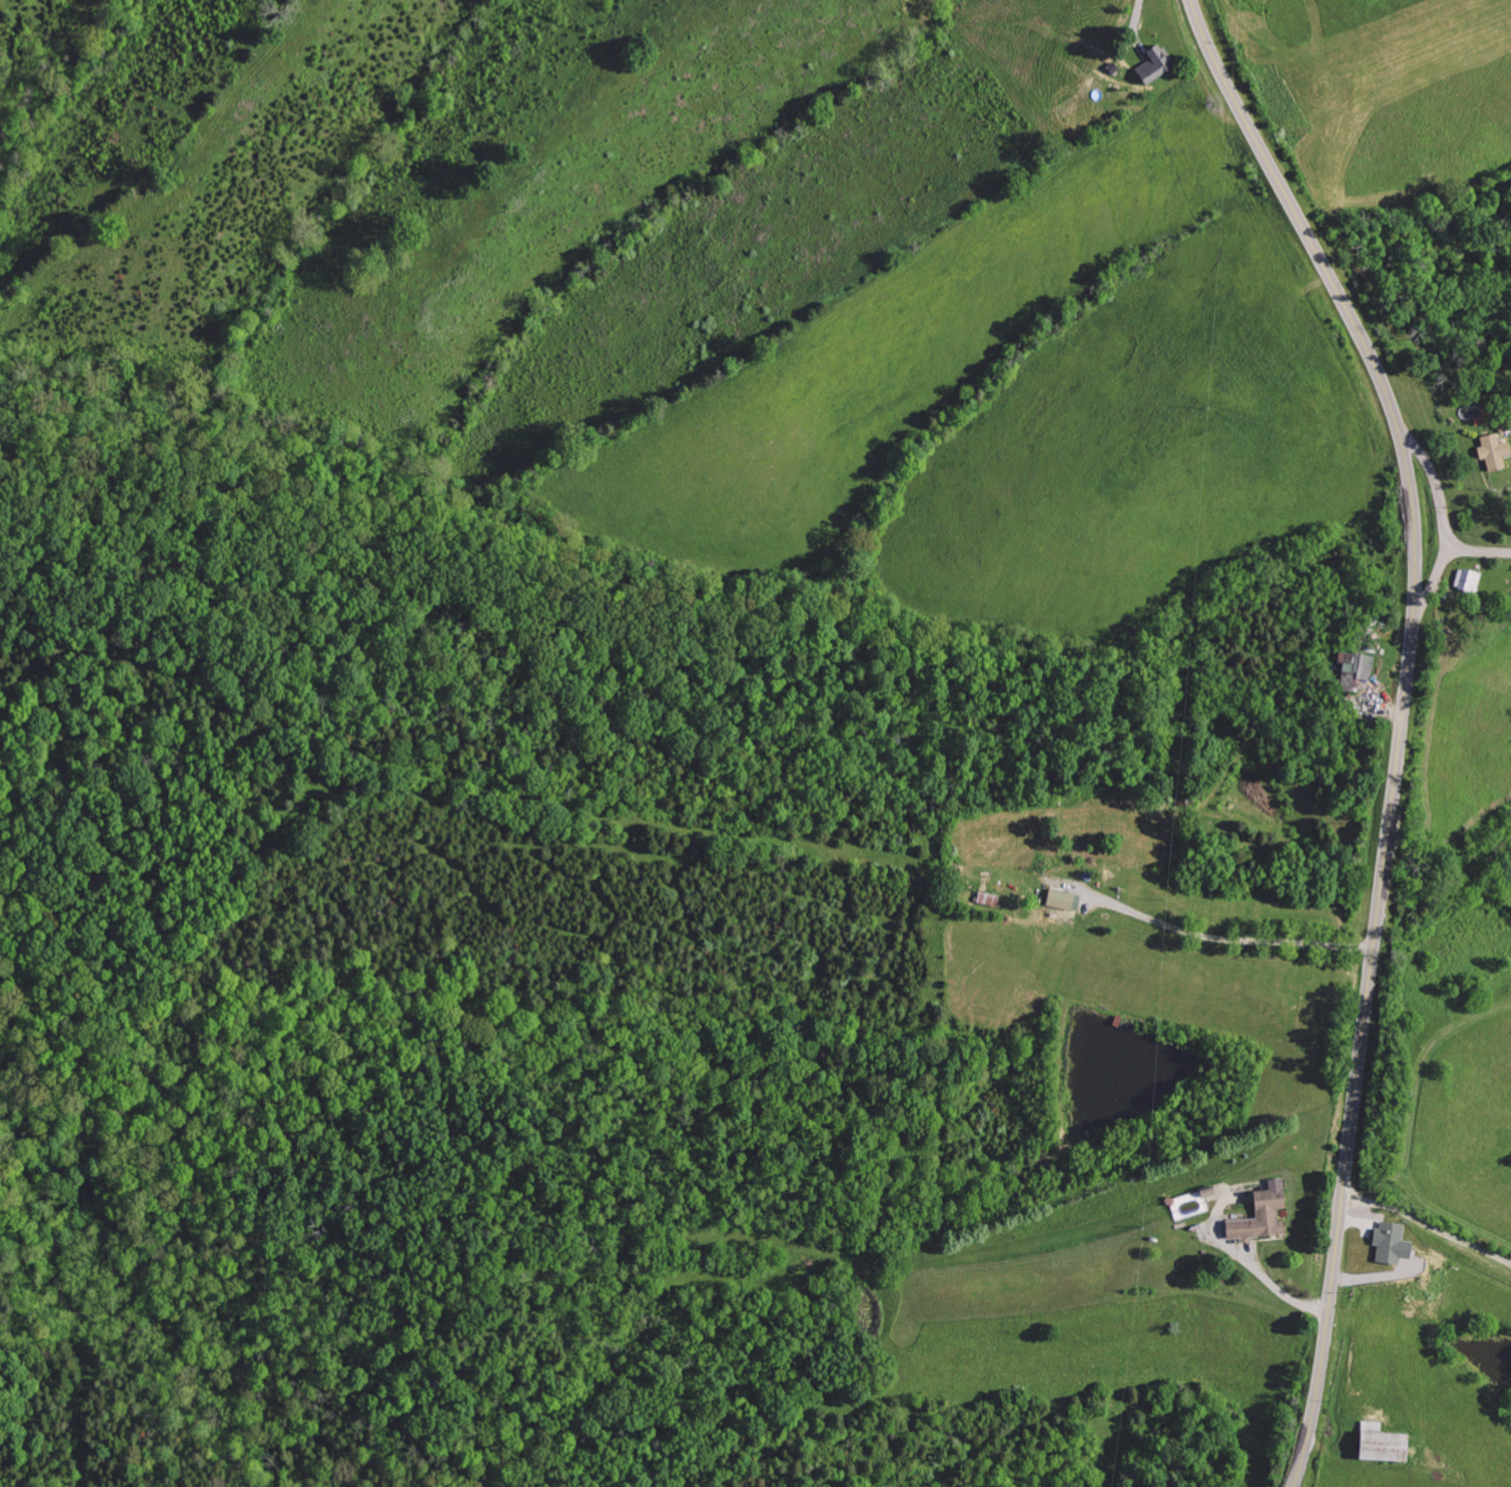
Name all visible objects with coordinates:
building: (1150, 65)
building: (1491, 452)
road: (1436, 484)
road: (1444, 563)
building: (1464, 581)
building: (1353, 669)
road: (1404, 722)
building: (1060, 899)
road: (1225, 937)
building: (1257, 1215)
building: (1387, 1243)
road: (1426, 1249)
road: (1276, 1285)
building: (1374, 1447)

